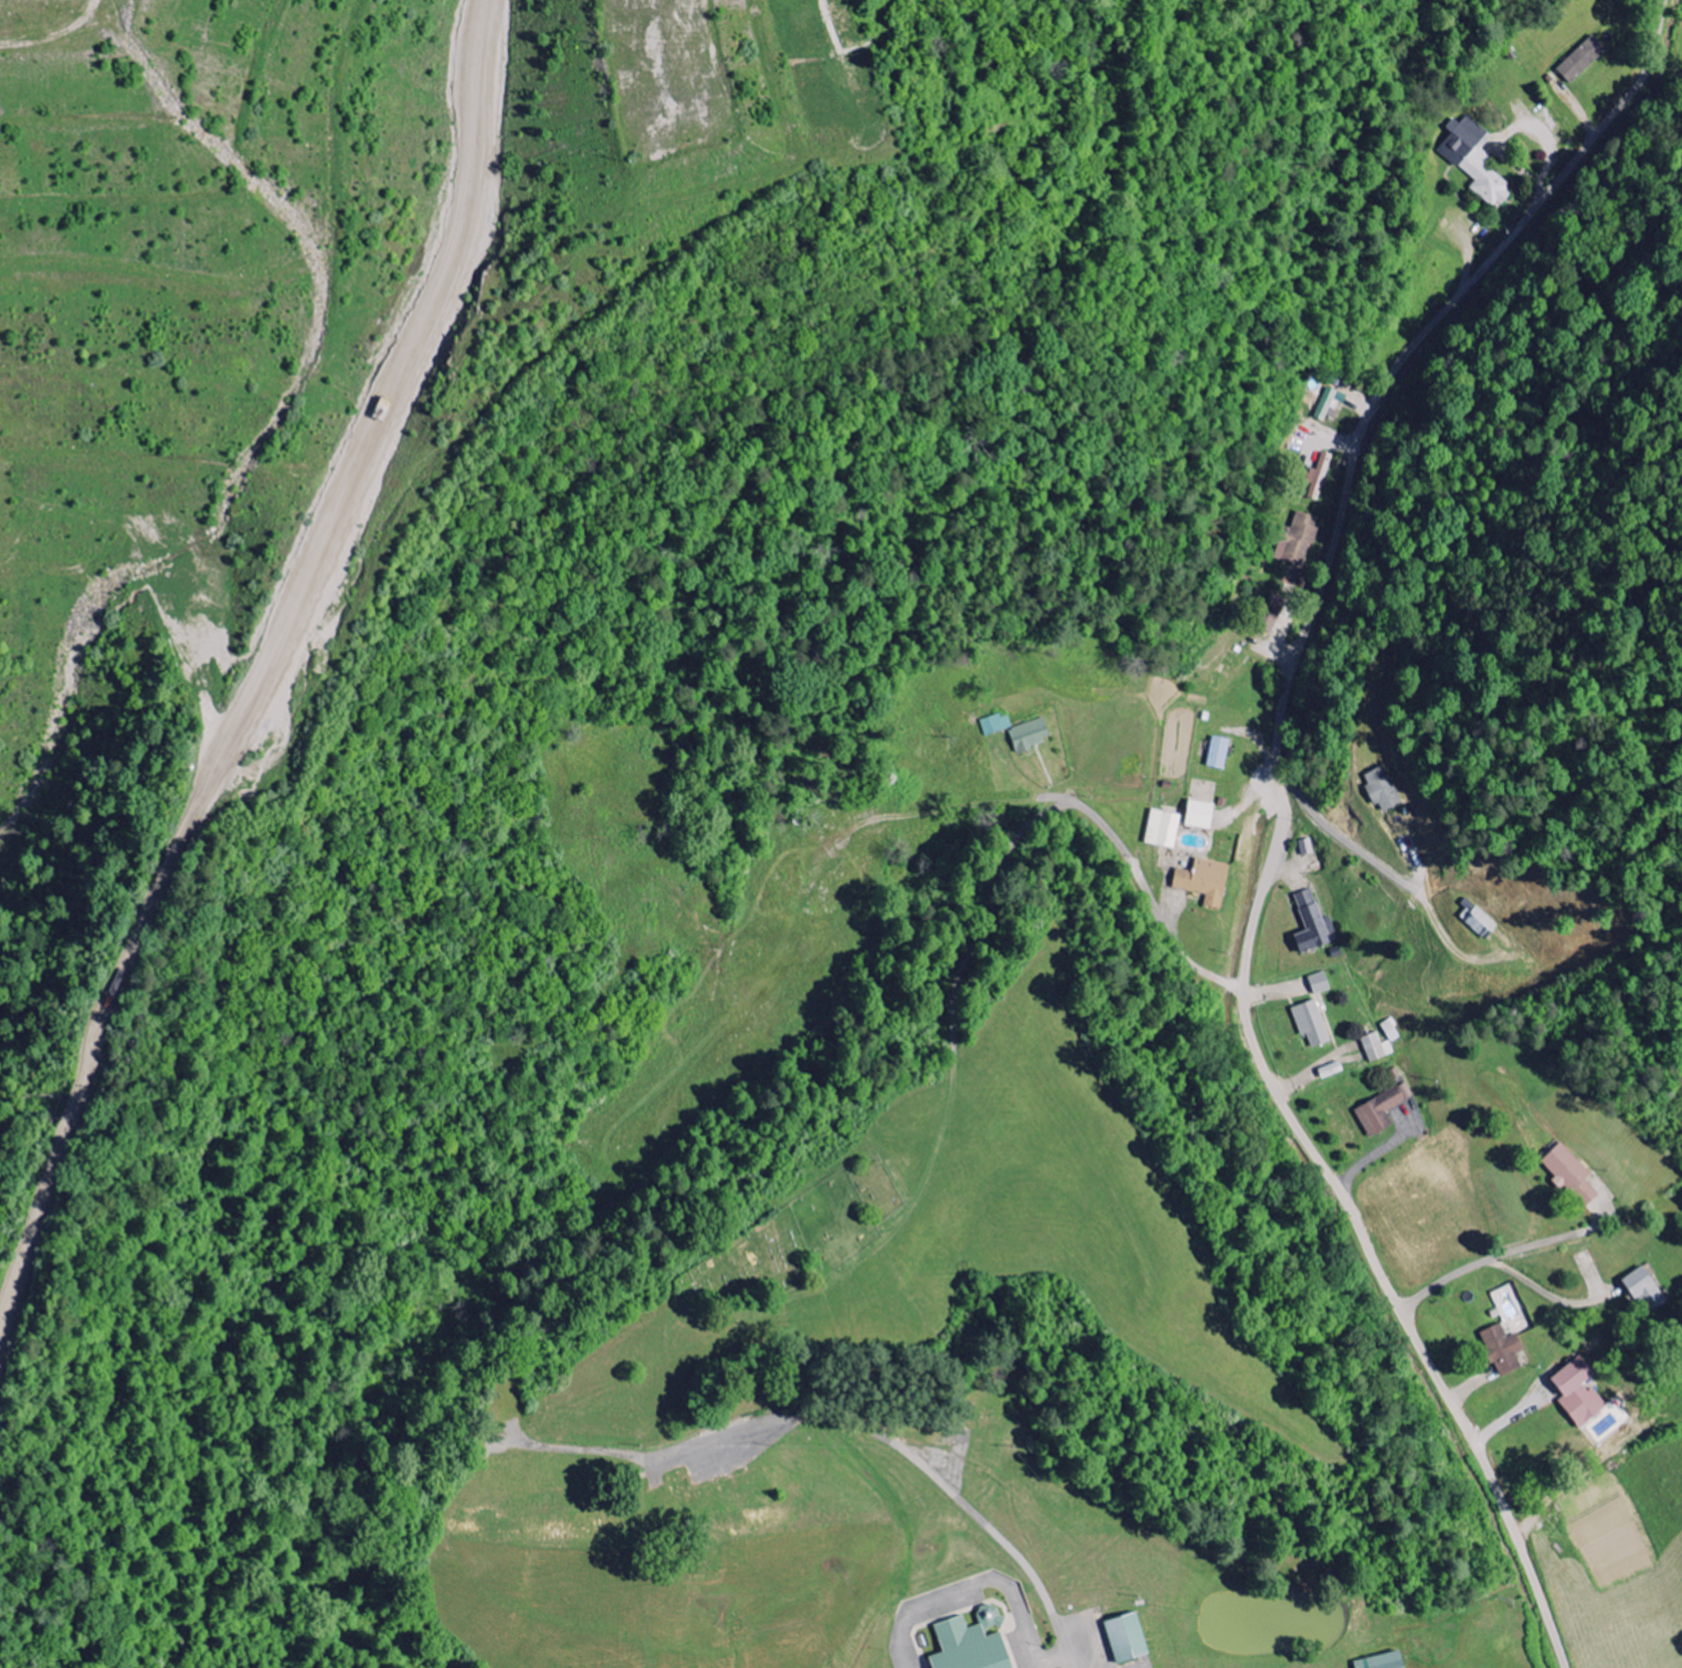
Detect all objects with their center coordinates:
building: (1585, 60)
building: (1477, 159)
building: (1332, 403)
quarry: (429, 411)
building: (1323, 469)
building: (998, 724)
building: (1032, 735)
building: (1220, 752)
building: (1385, 789)
building: (1203, 814)
road: (1276, 815)
building: (1166, 828)
building: (1207, 880)
road: (1151, 896)
building: (1315, 923)
building: (1322, 983)
building: (1314, 1023)
building: (1378, 1047)
road: (956, 1069)
building: (1334, 1069)
building: (1384, 1109)
building: (1574, 1174)
building: (1648, 1290)
building: (1505, 1350)
building: (1581, 1393)
road: (910, 1451)
building: (1130, 1638)
building: (972, 1647)
building: (1386, 1661)

